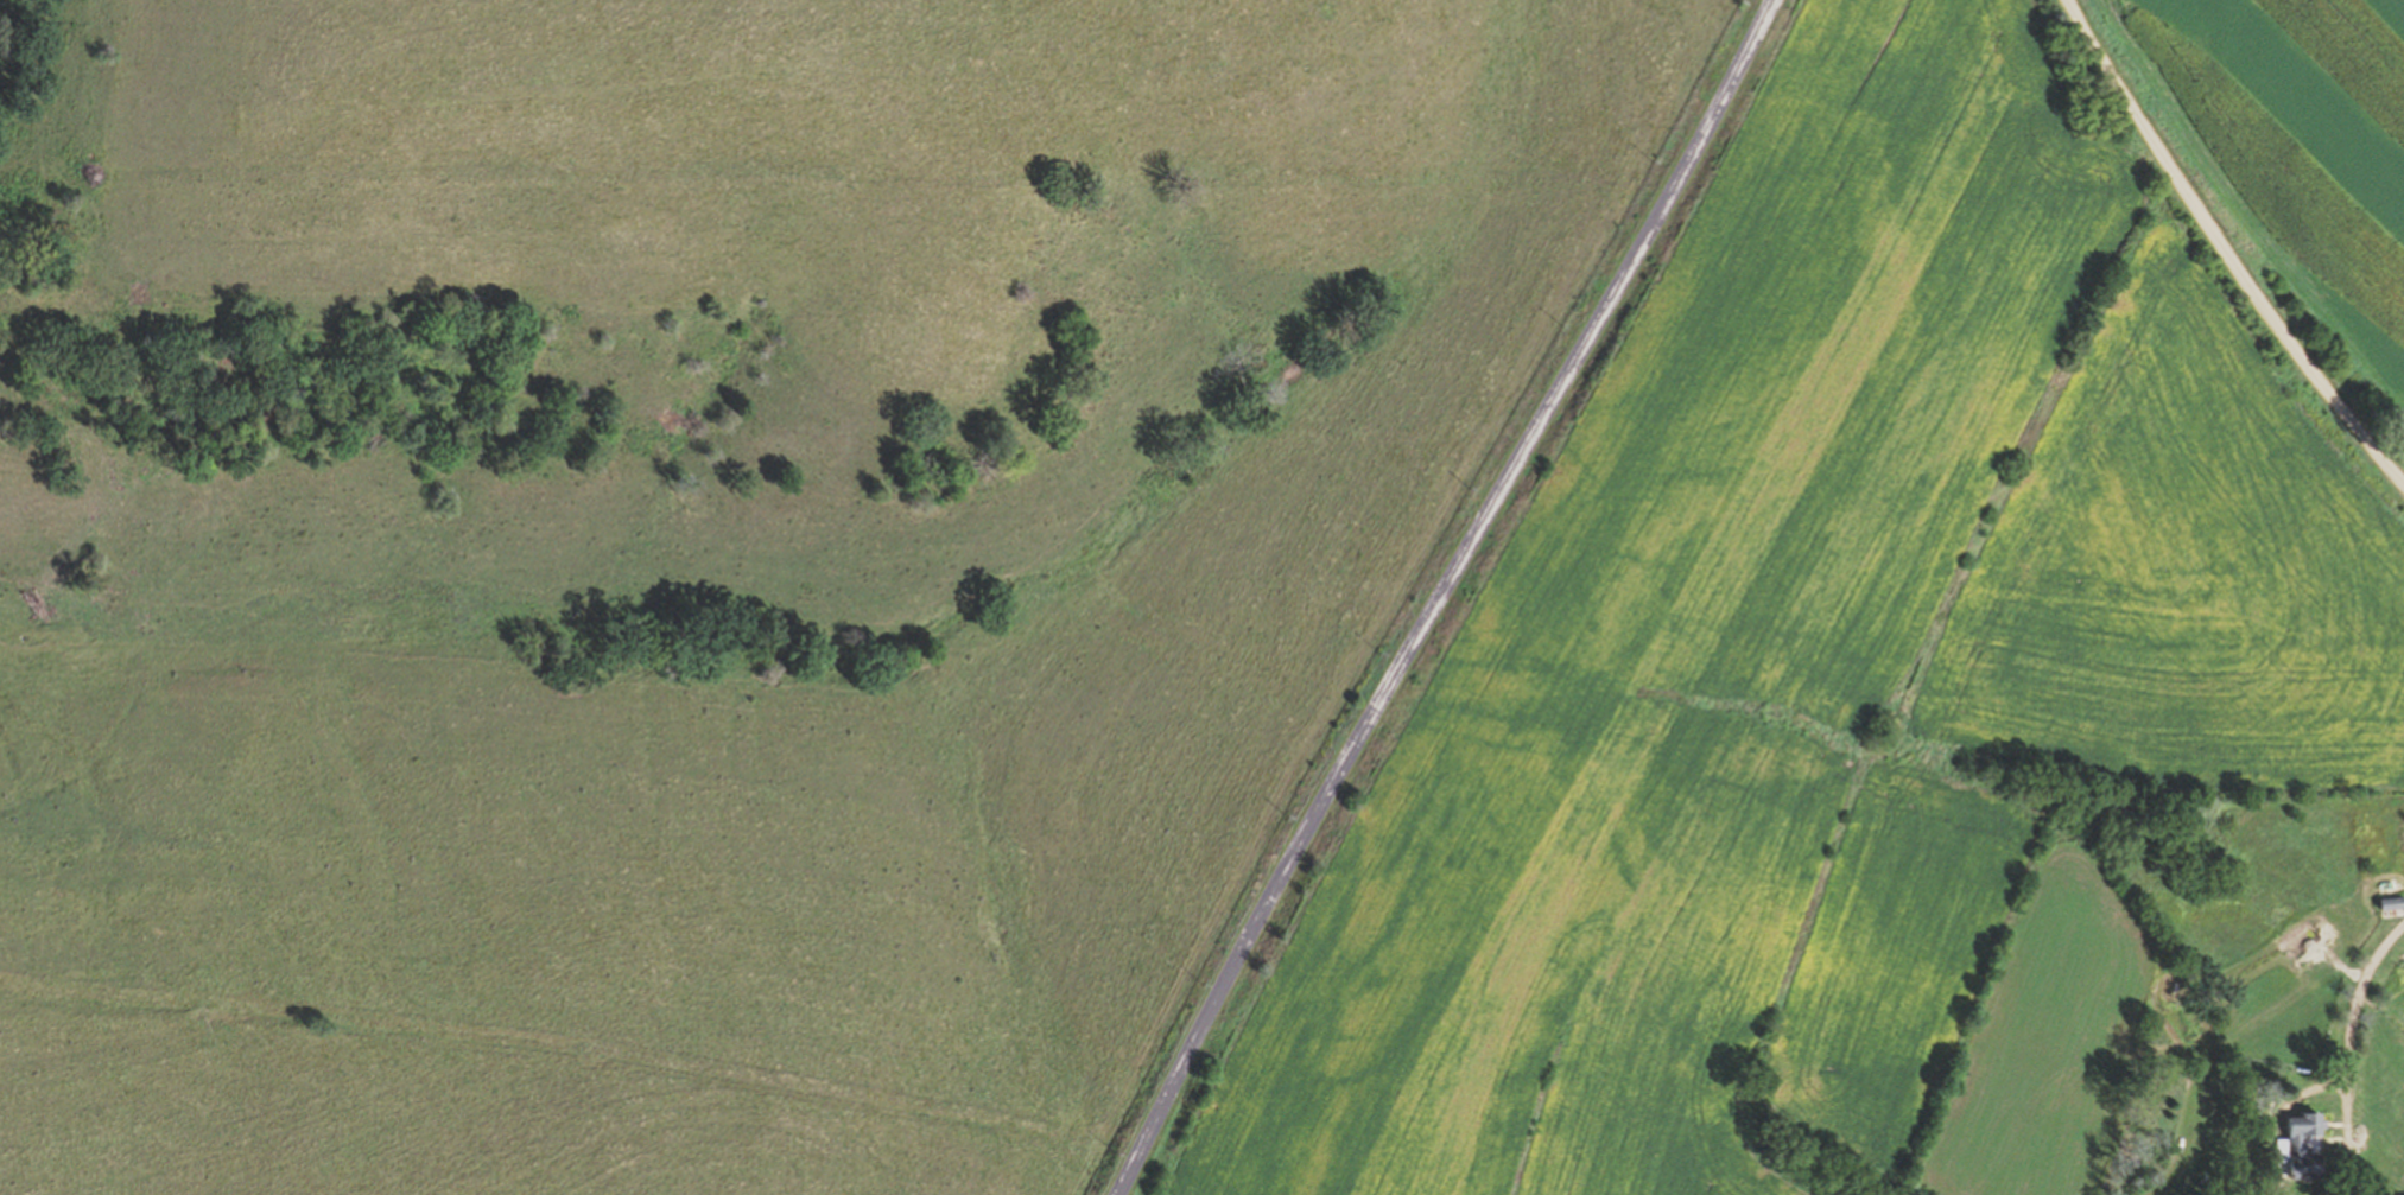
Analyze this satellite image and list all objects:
road: (2244, 249)
road: (1435, 597)
building: (2393, 902)
road: (2359, 954)
building: (2305, 1148)

